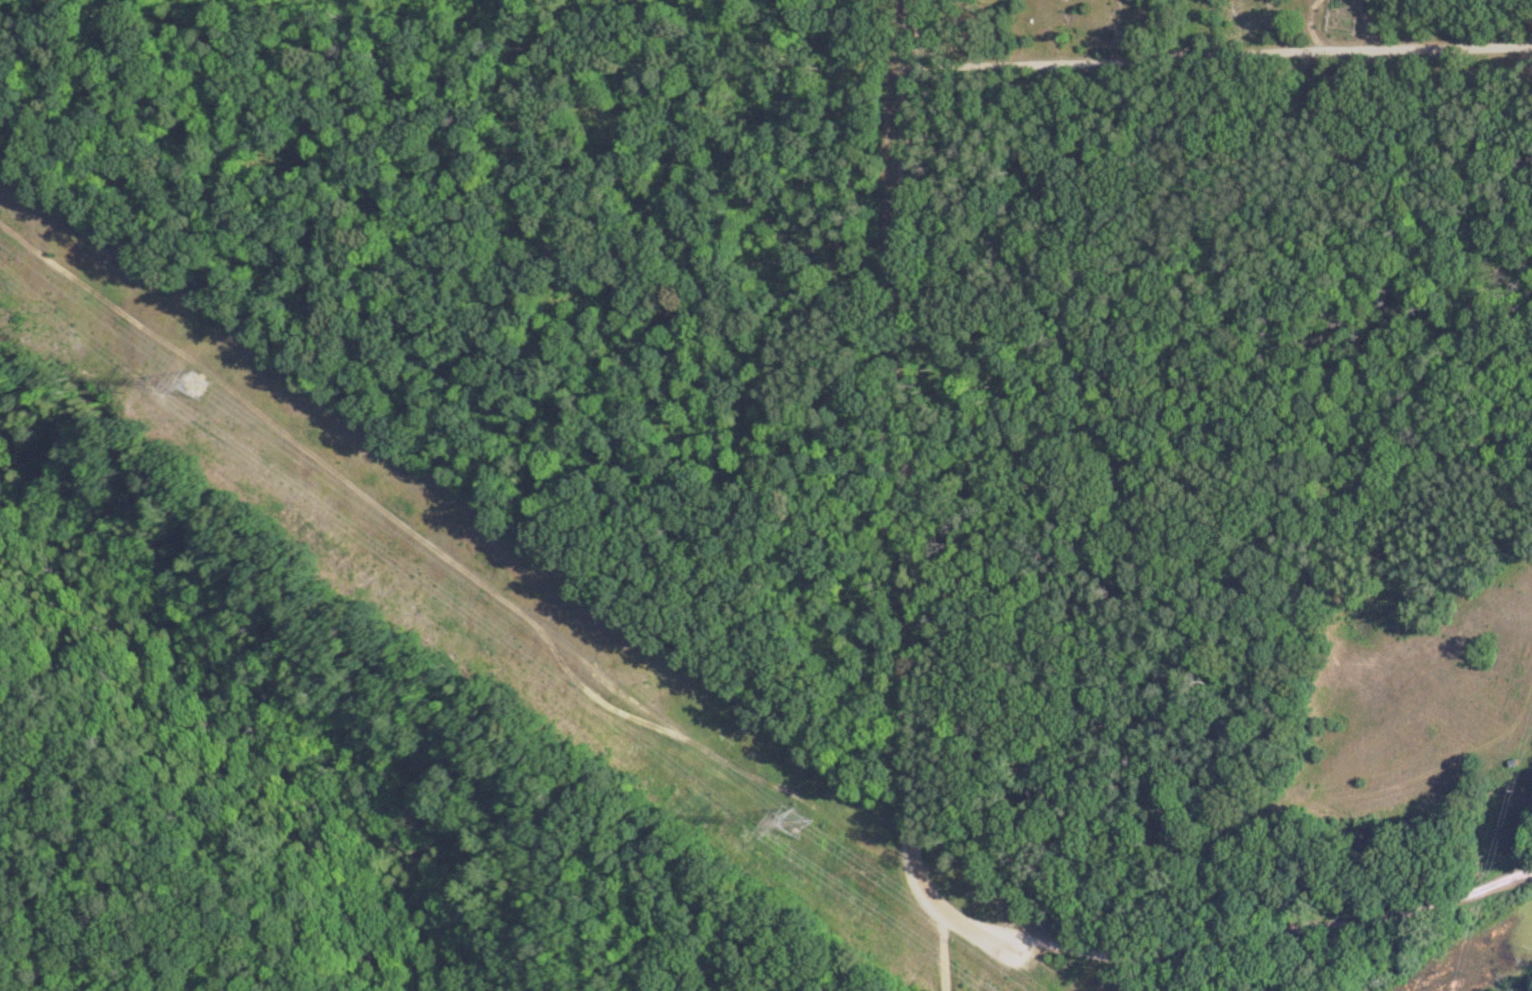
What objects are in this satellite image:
road: (1220, 52)
power tower: (197, 382)
road: (910, 767)
power tower: (798, 815)
road: (944, 953)

